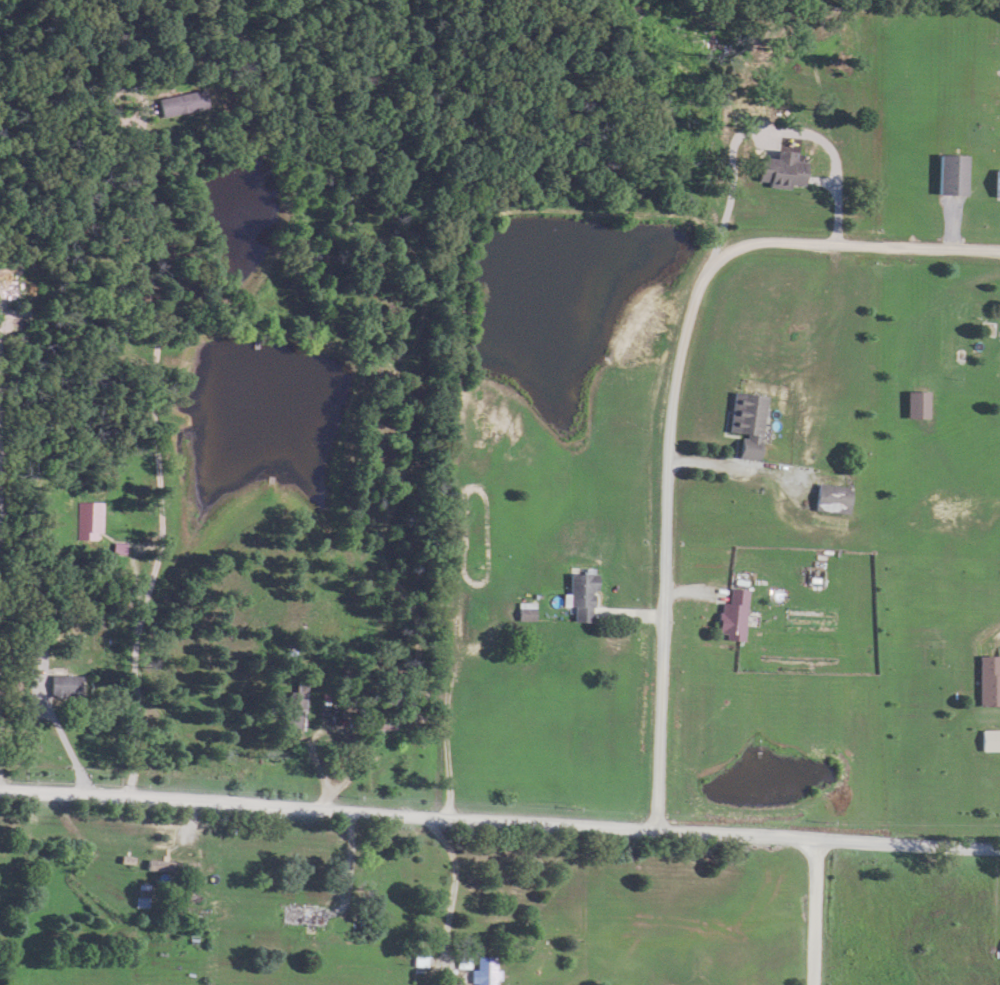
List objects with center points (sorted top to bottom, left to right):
building: (996, 70)
building: (180, 103)
building: (780, 170)
building: (952, 174)
road: (674, 397)
building: (743, 423)
building: (829, 498)
building: (88, 520)
building: (576, 596)
building: (730, 614)
building: (989, 681)
building: (60, 685)
building: (290, 709)
road: (499, 824)
road: (354, 863)
road: (455, 889)
building: (139, 901)
building: (296, 915)
road: (820, 915)
road: (442, 960)
building: (482, 972)

